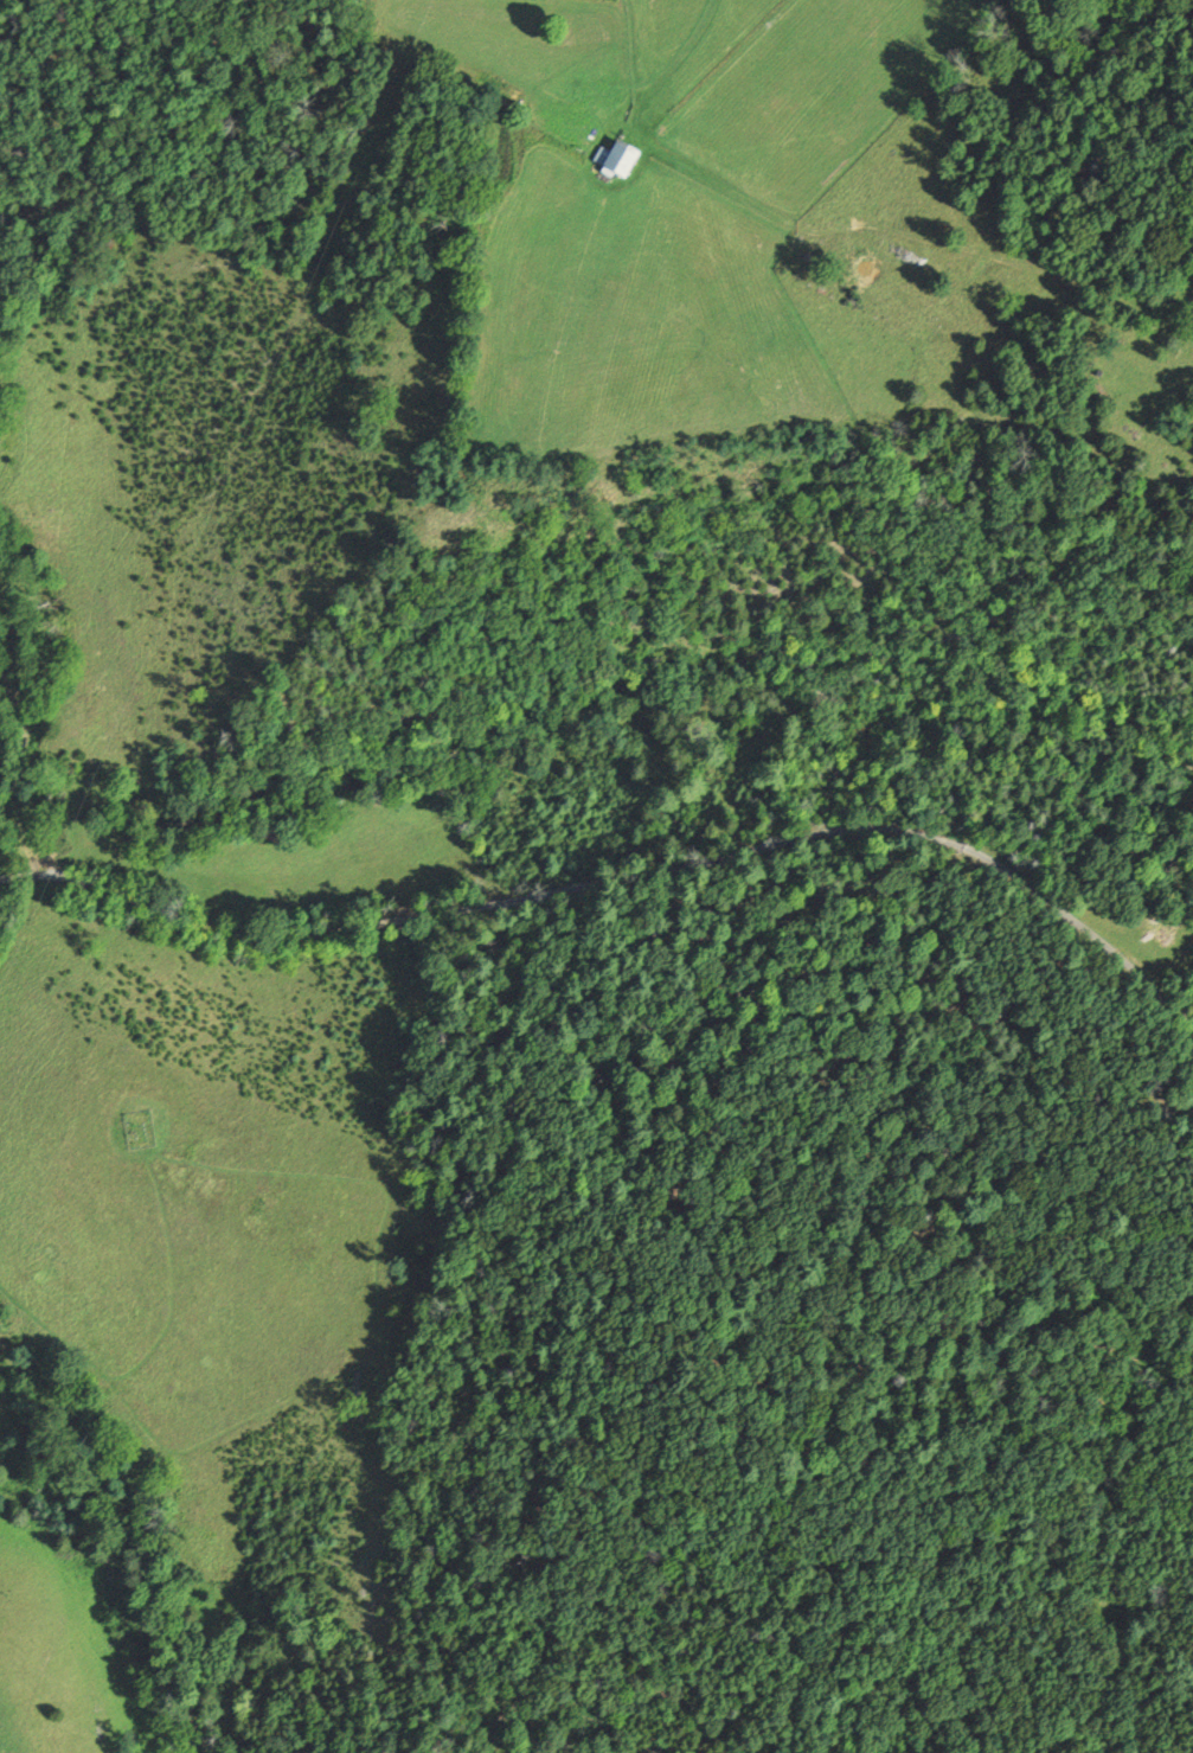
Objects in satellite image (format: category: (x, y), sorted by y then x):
building: (616, 161)
road: (626, 881)
park: (141, 1131)

